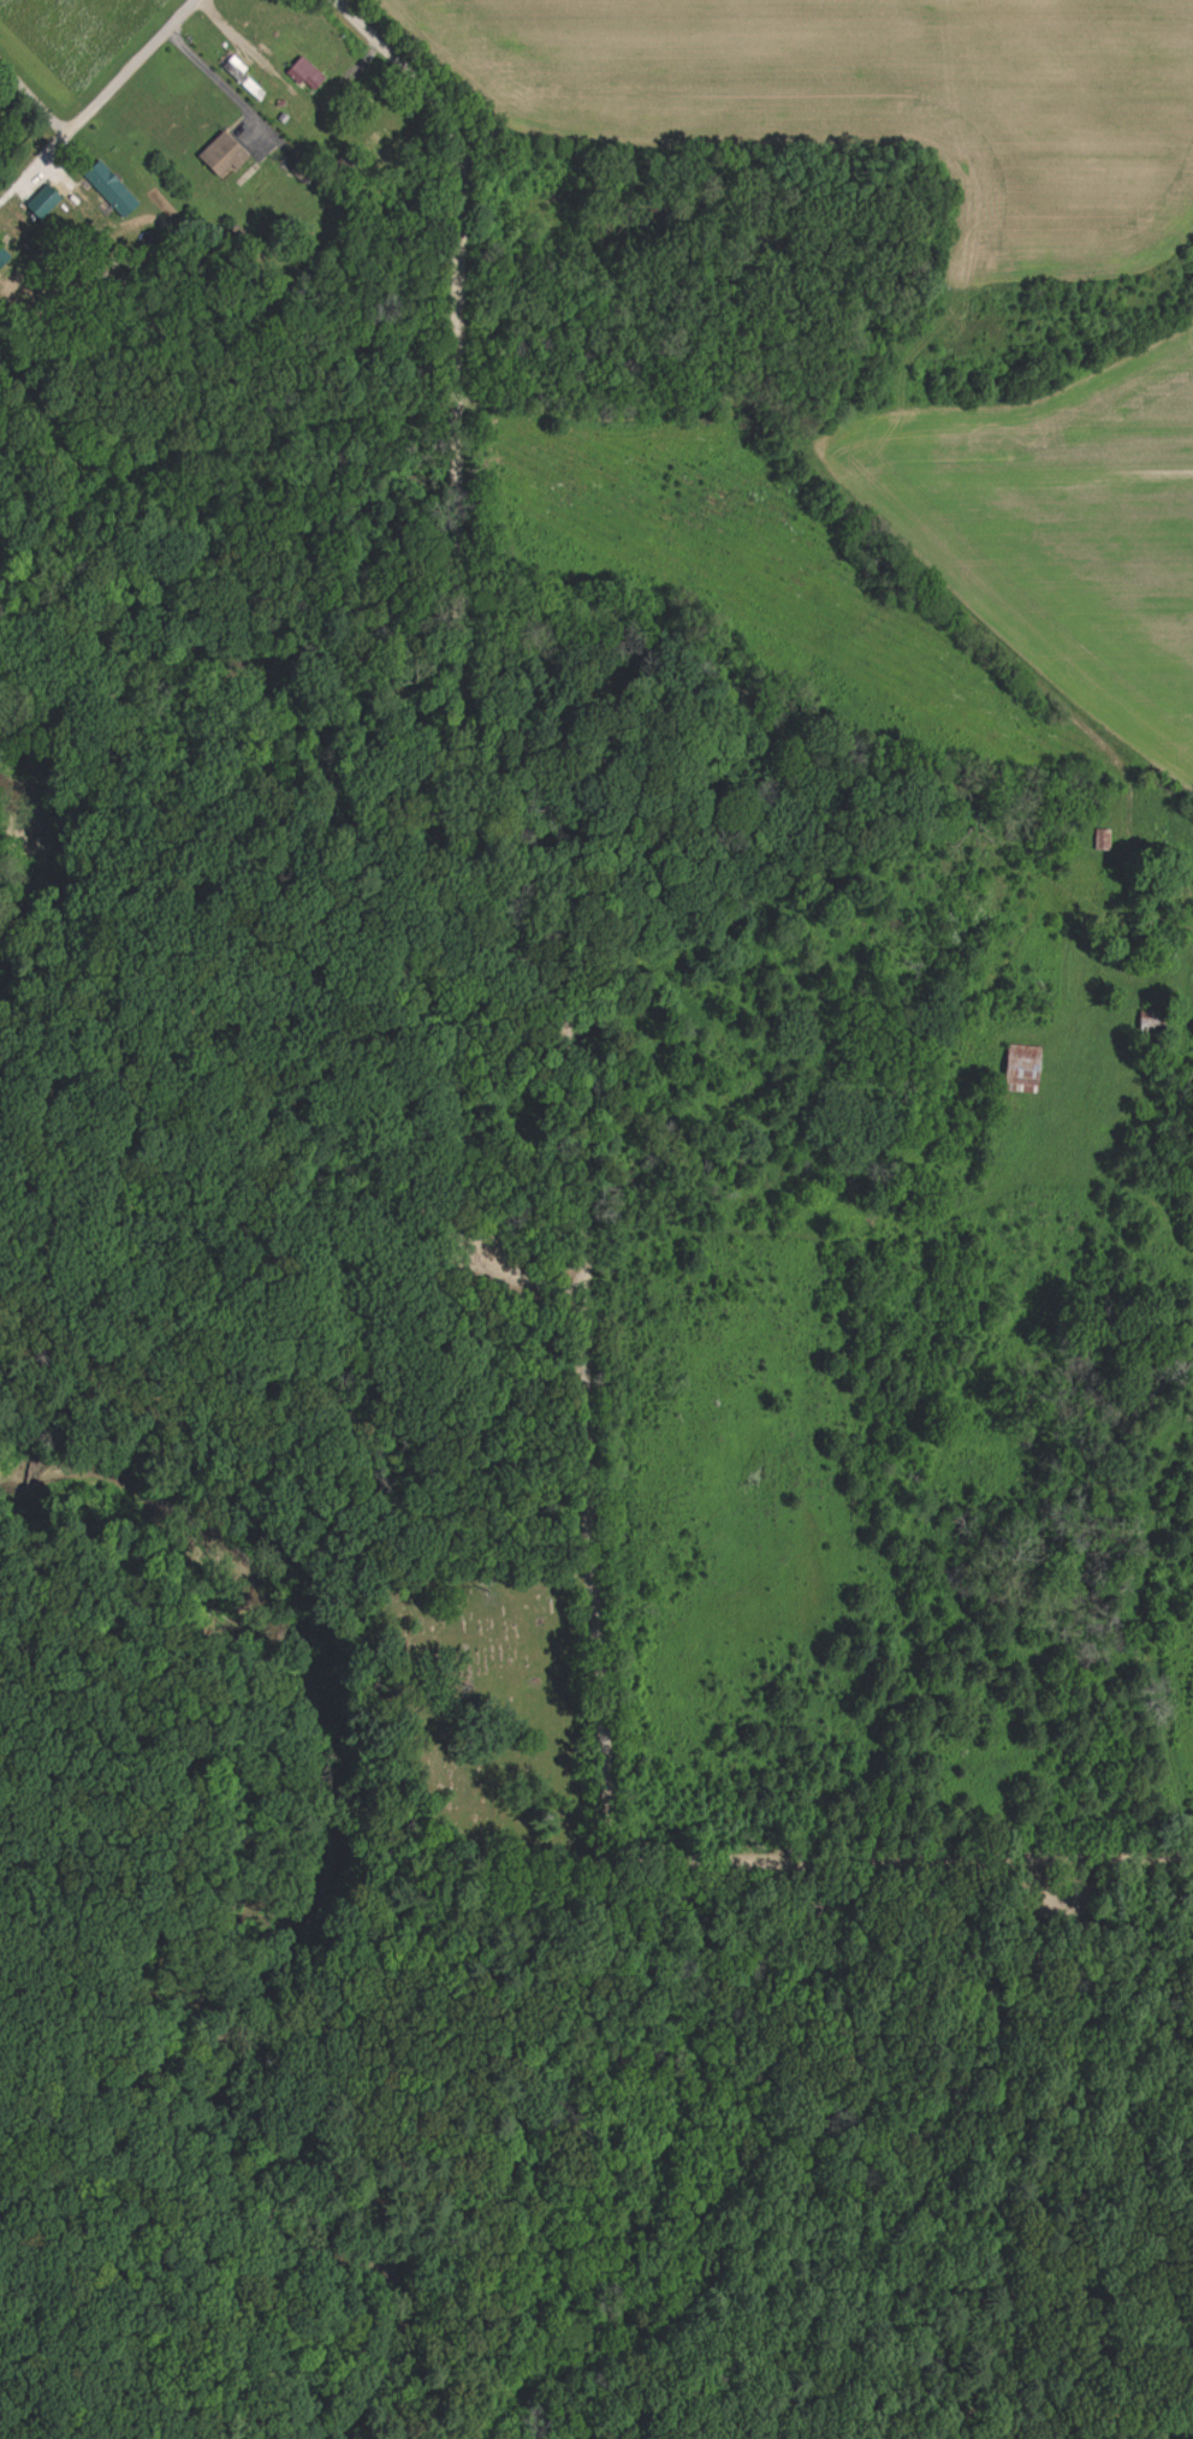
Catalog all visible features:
road: (400, 63)
building: (238, 71)
building: (307, 76)
road: (213, 77)
road: (124, 81)
building: (225, 158)
building: (113, 191)
building: (44, 204)
building: (4, 259)
road: (890, 539)
road: (29, 732)
road: (326, 821)
road: (1, 877)
building: (1023, 1070)
road: (230, 1150)
parking lot: (481, 1252)
road: (584, 1264)
road: (516, 1271)
park: (494, 1715)

